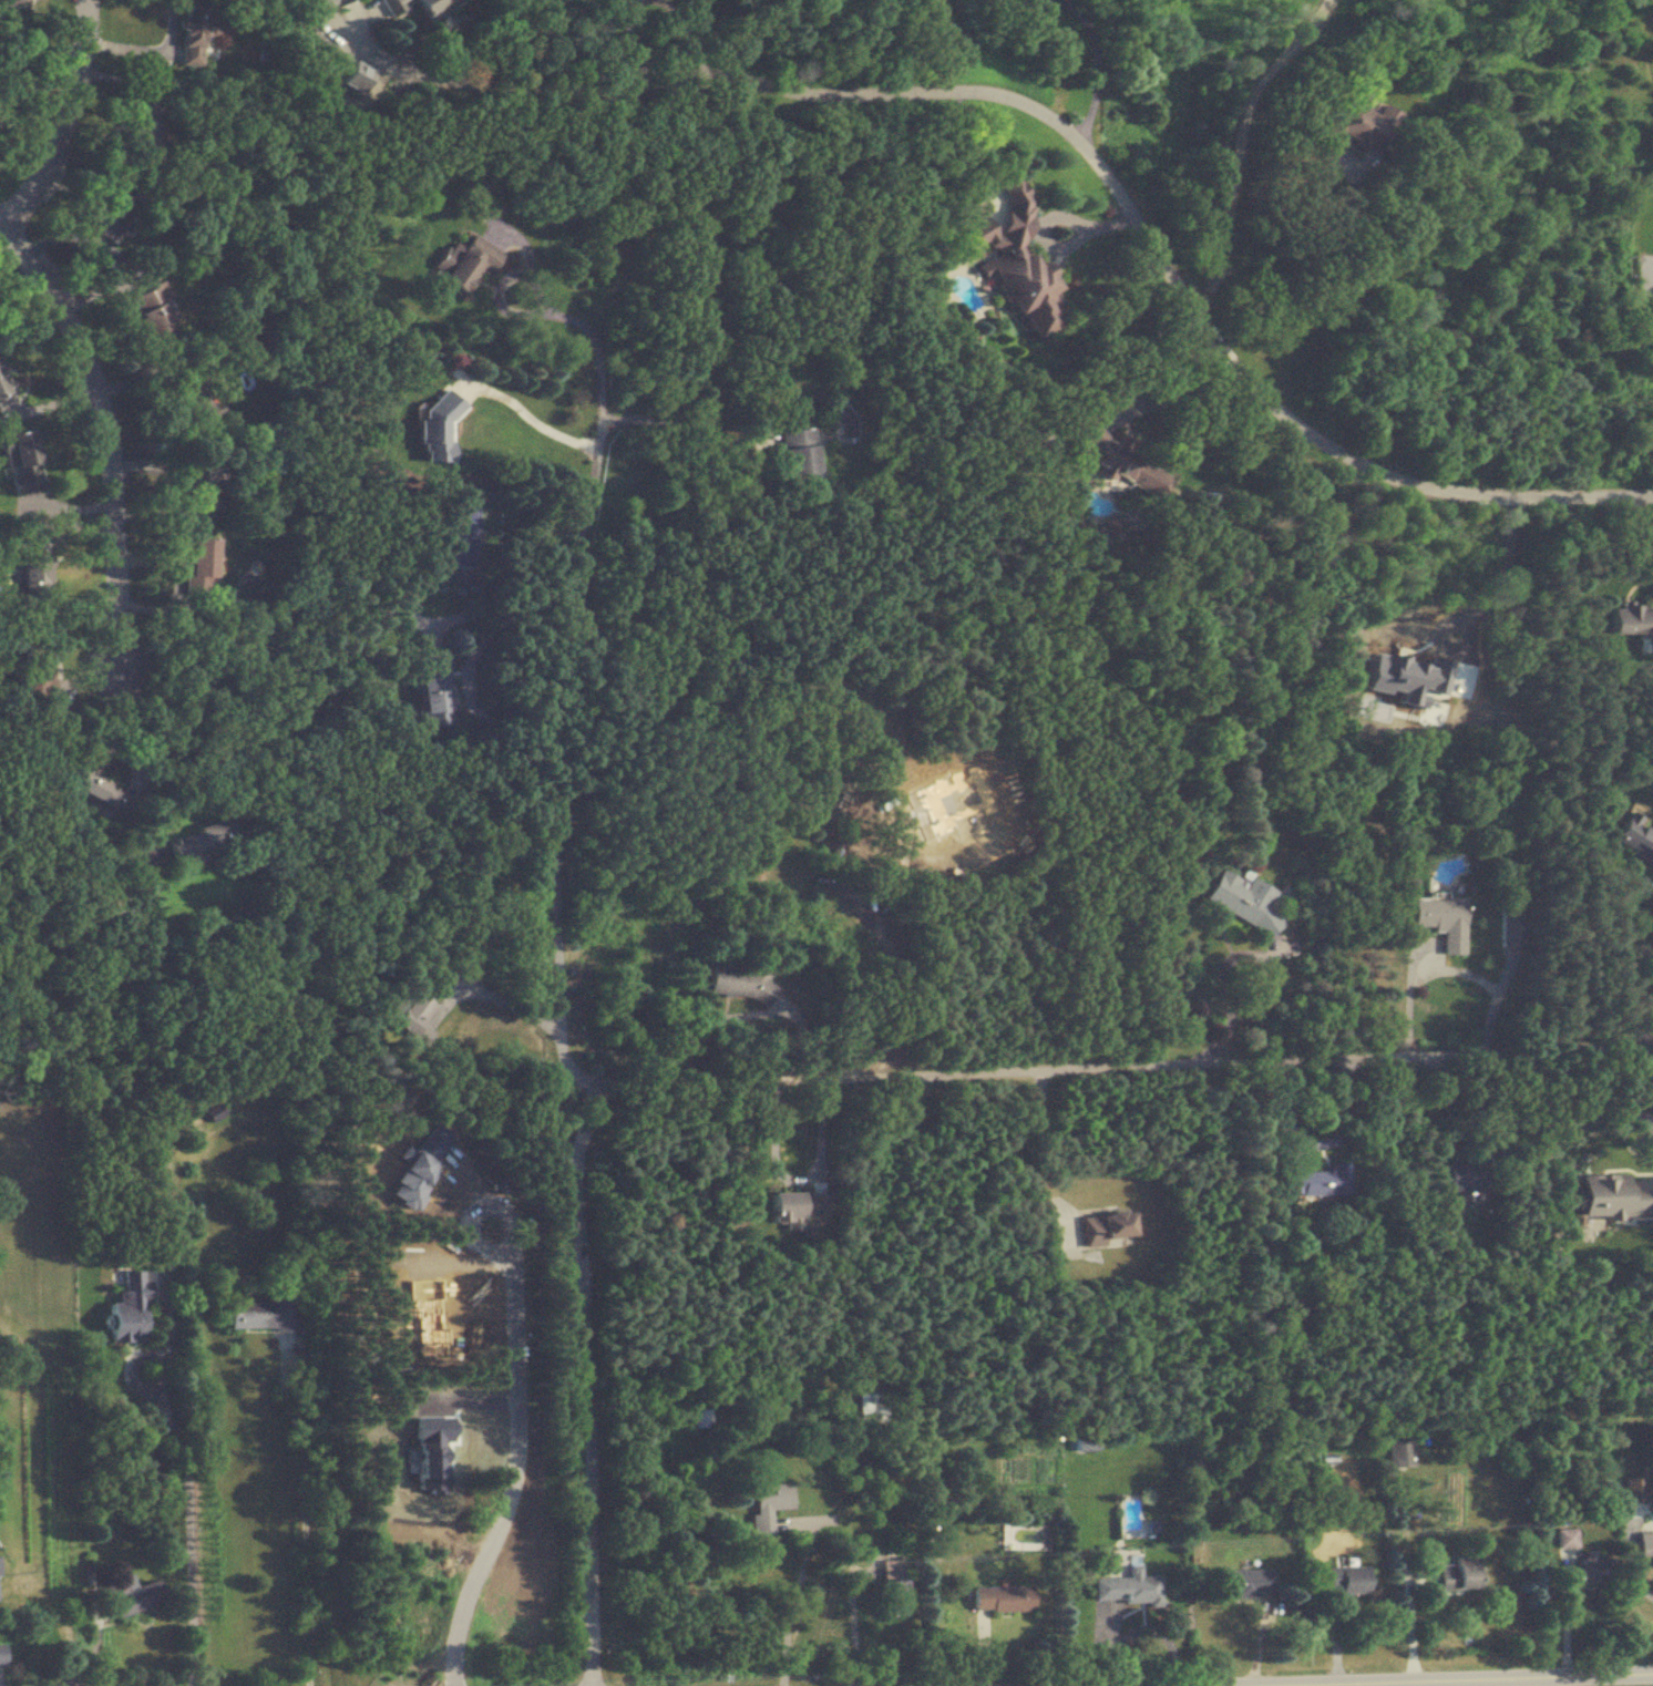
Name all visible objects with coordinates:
building: (998, 0)
building: (325, 2)
building: (393, 6)
building: (433, 7)
road: (474, 19)
road: (684, 30)
building: (192, 33)
road: (626, 37)
road: (153, 52)
road: (1097, 65)
road: (473, 81)
road: (64, 122)
building: (1363, 122)
road: (1240, 124)
building: (141, 126)
road: (953, 155)
building: (116, 209)
road: (1054, 245)
road: (1153, 247)
road: (1284, 253)
building: (469, 261)
road: (552, 306)
building: (156, 313)
road: (165, 371)
road: (1158, 371)
building: (6, 390)
building: (189, 398)
road: (536, 414)
building: (438, 428)
road: (107, 450)
building: (799, 454)
building: (1121, 460)
building: (21, 462)
building: (197, 487)
building: (202, 559)
building: (404, 595)
road: (1459, 607)
building: (1634, 620)
building: (34, 665)
road: (465, 665)
building: (434, 688)
road: (144, 759)
building: (99, 792)
building: (1636, 836)
building: (203, 840)
building: (1243, 899)
building: (1444, 921)
building: (1511, 925)
road: (1646, 964)
road: (1452, 971)
building: (741, 981)
road: (562, 998)
road: (503, 999)
road: (1236, 1004)
building: (415, 1017)
road: (1033, 1069)
road: (1626, 1087)
road: (1020, 1163)
building: (1468, 1176)
road: (794, 1179)
building: (1316, 1180)
building: (1616, 1195)
road: (481, 1205)
building: (801, 1210)
building: (1108, 1228)
building: (130, 1307)
building: (266, 1312)
building: (872, 1407)
building: (700, 1419)
building: (1087, 1446)
building: (1403, 1453)
road: (519, 1473)
building: (1635, 1490)
building: (768, 1504)
road: (191, 1523)
road: (306, 1531)
building: (1024, 1536)
building: (1567, 1538)
building: (1645, 1544)
building: (1594, 1569)
building: (1460, 1574)
road: (1633, 1576)
building: (1349, 1580)
building: (1246, 1582)
building: (1127, 1587)
road: (793, 1591)
building: (130, 1595)
building: (895, 1597)
building: (1002, 1598)
road: (1260, 1643)
road: (94, 1647)
building: (1, 1654)
road: (1467, 1679)

